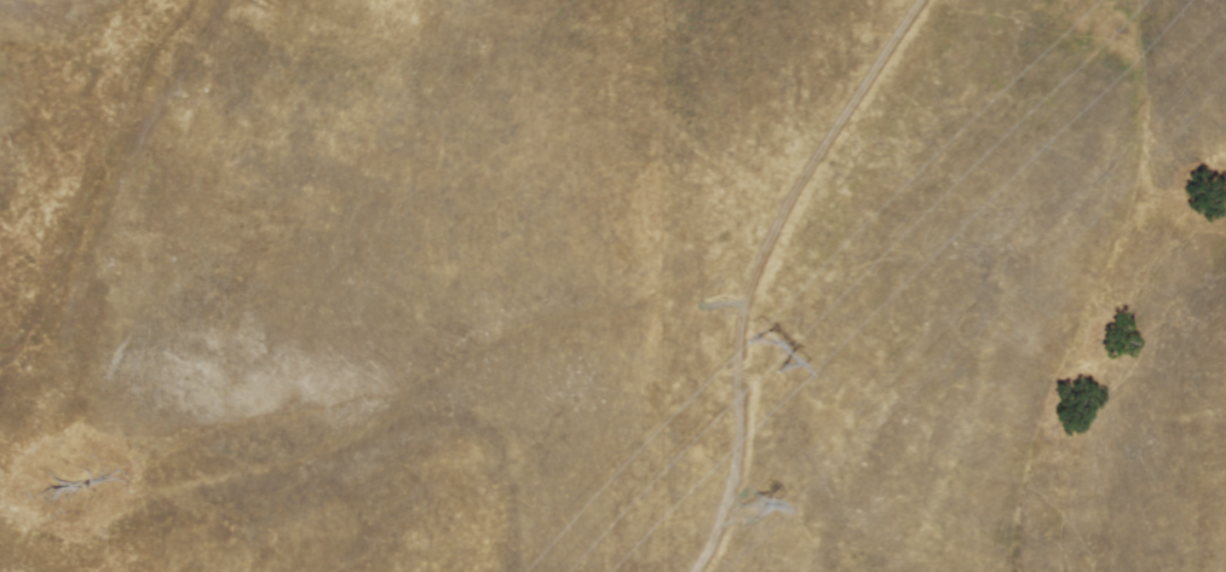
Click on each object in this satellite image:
road: (759, 267)
power tower: (762, 351)
power tower: (754, 508)

